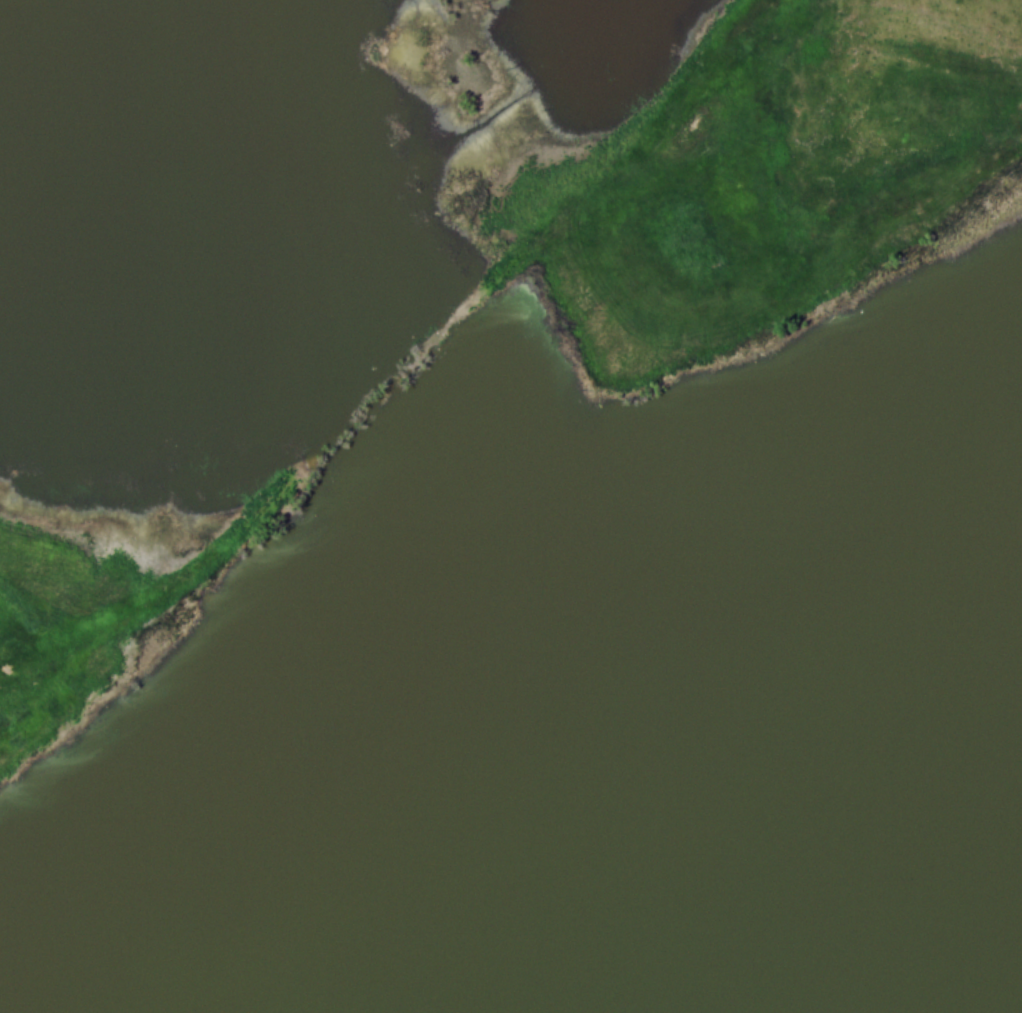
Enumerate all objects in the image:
airport runway: (850, 112)

